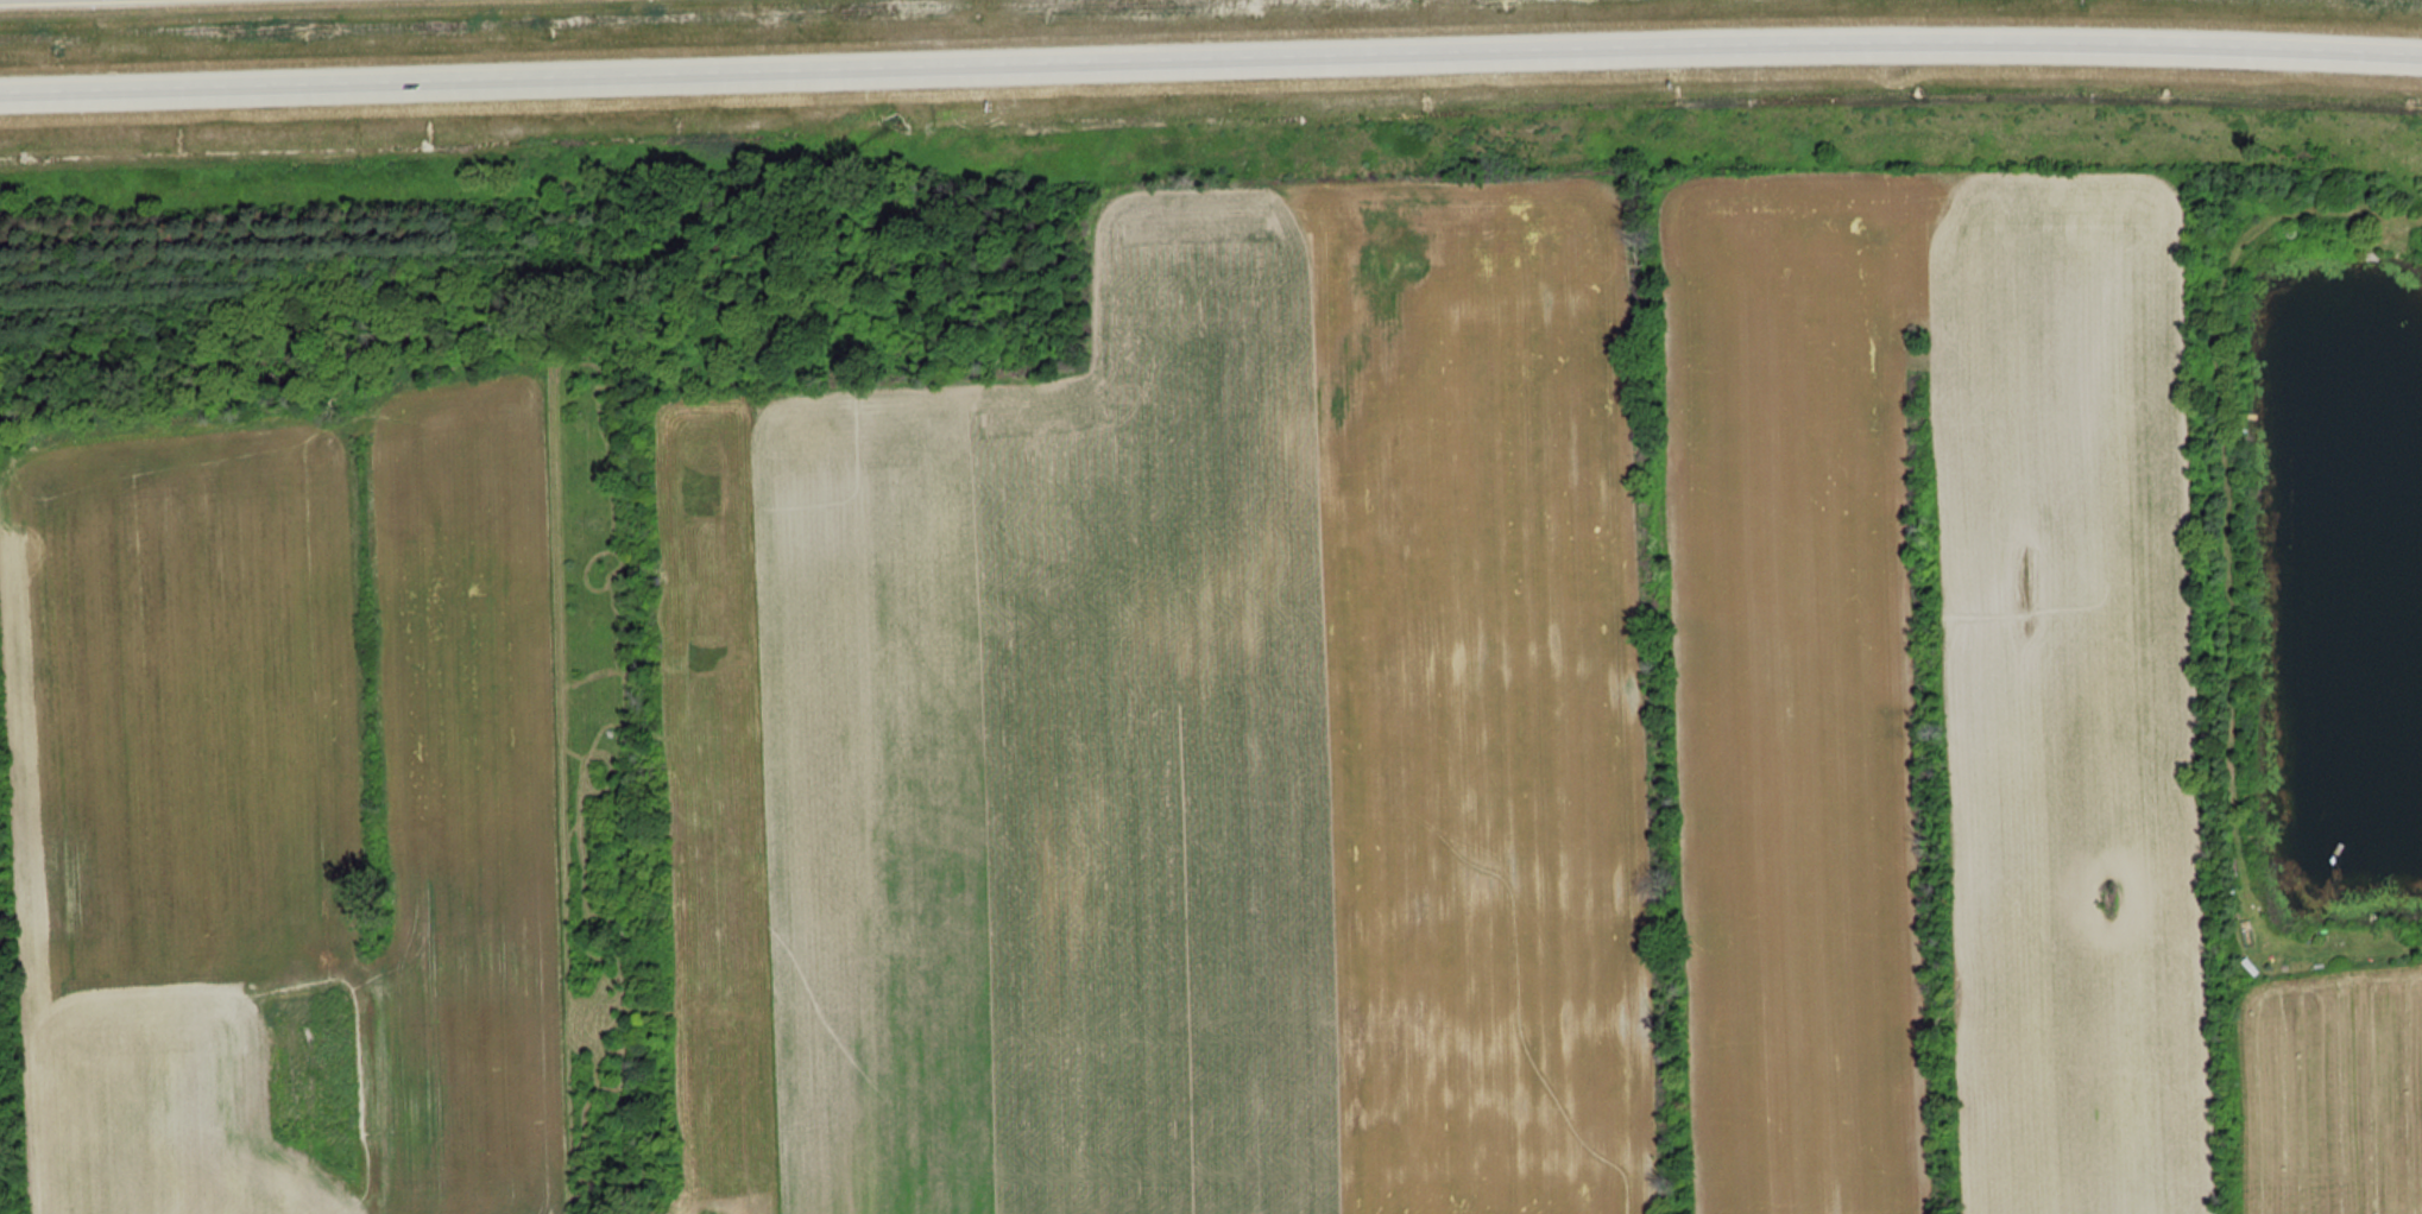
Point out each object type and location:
road: (1211, 56)

